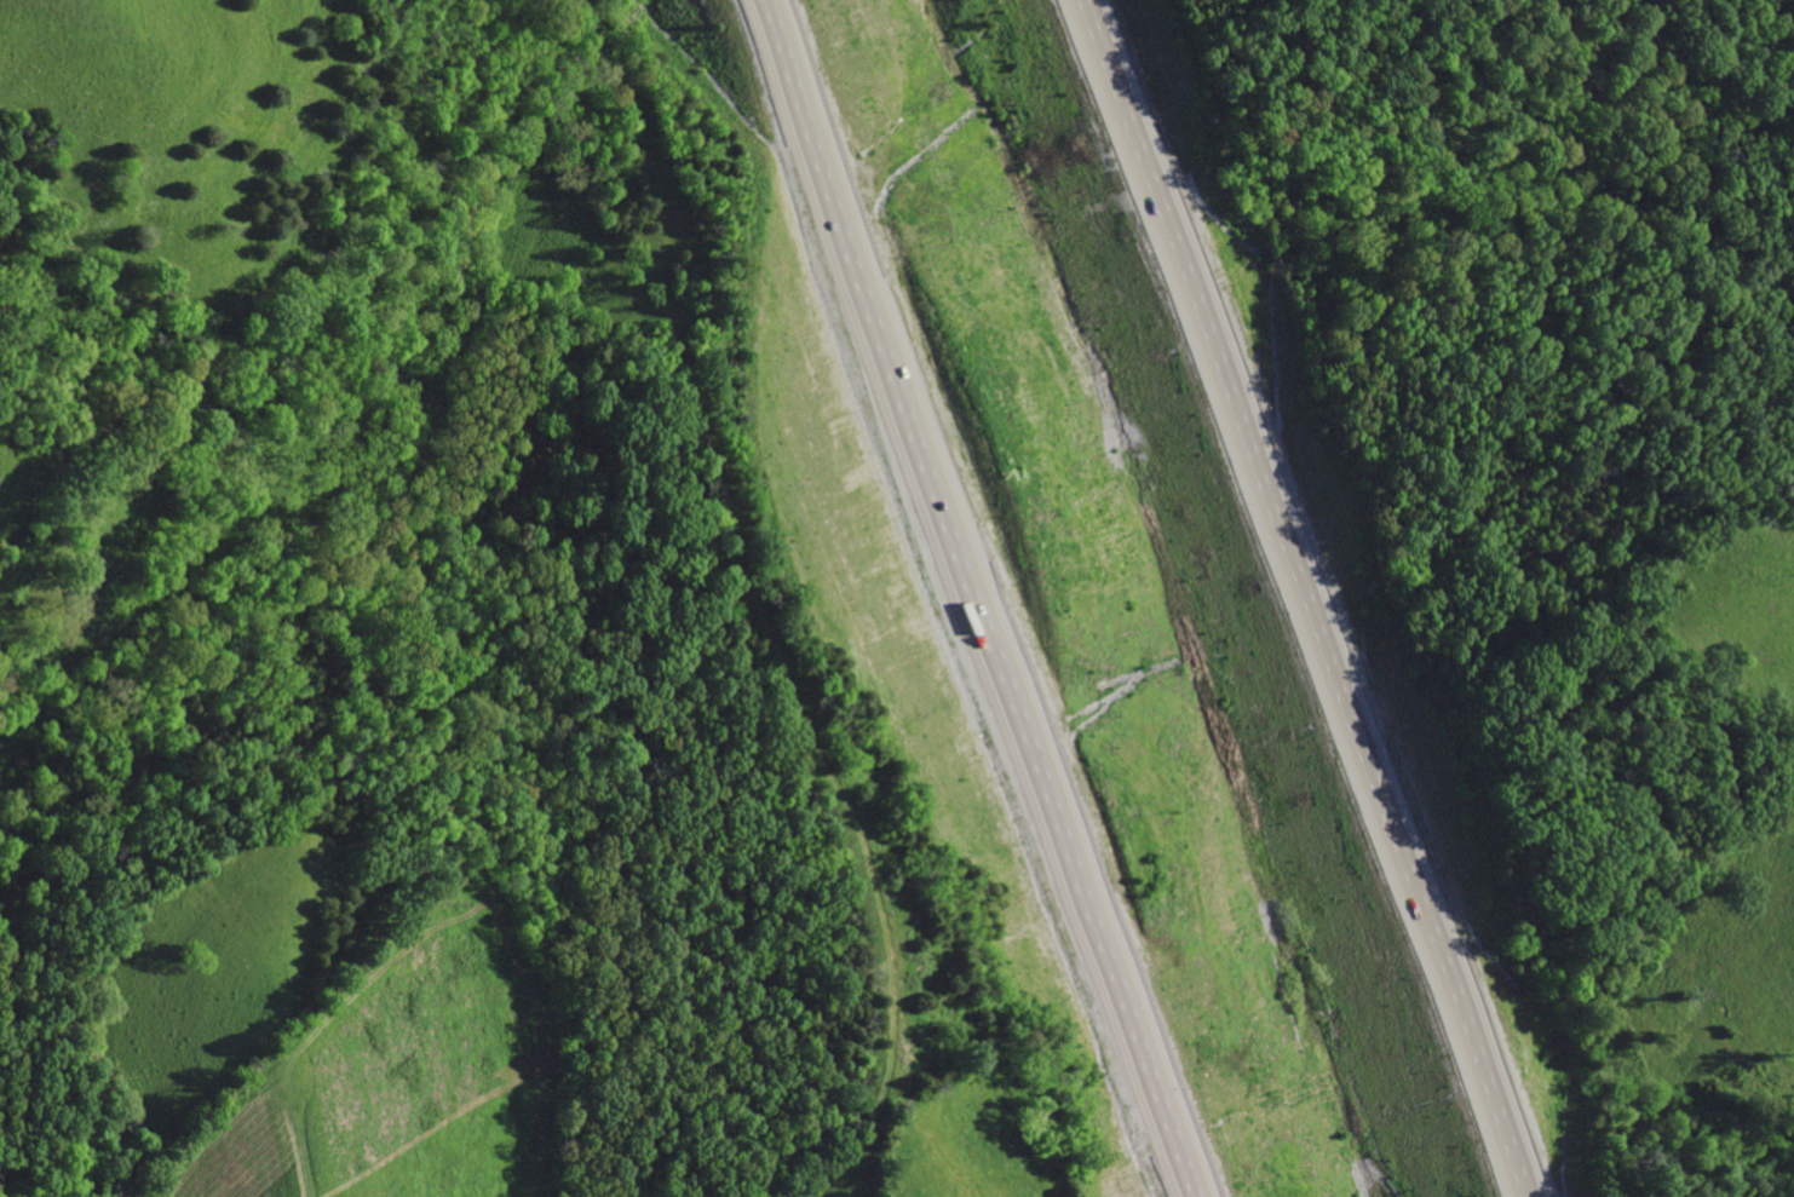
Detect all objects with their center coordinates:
road: (972, 598)
road: (1326, 598)

